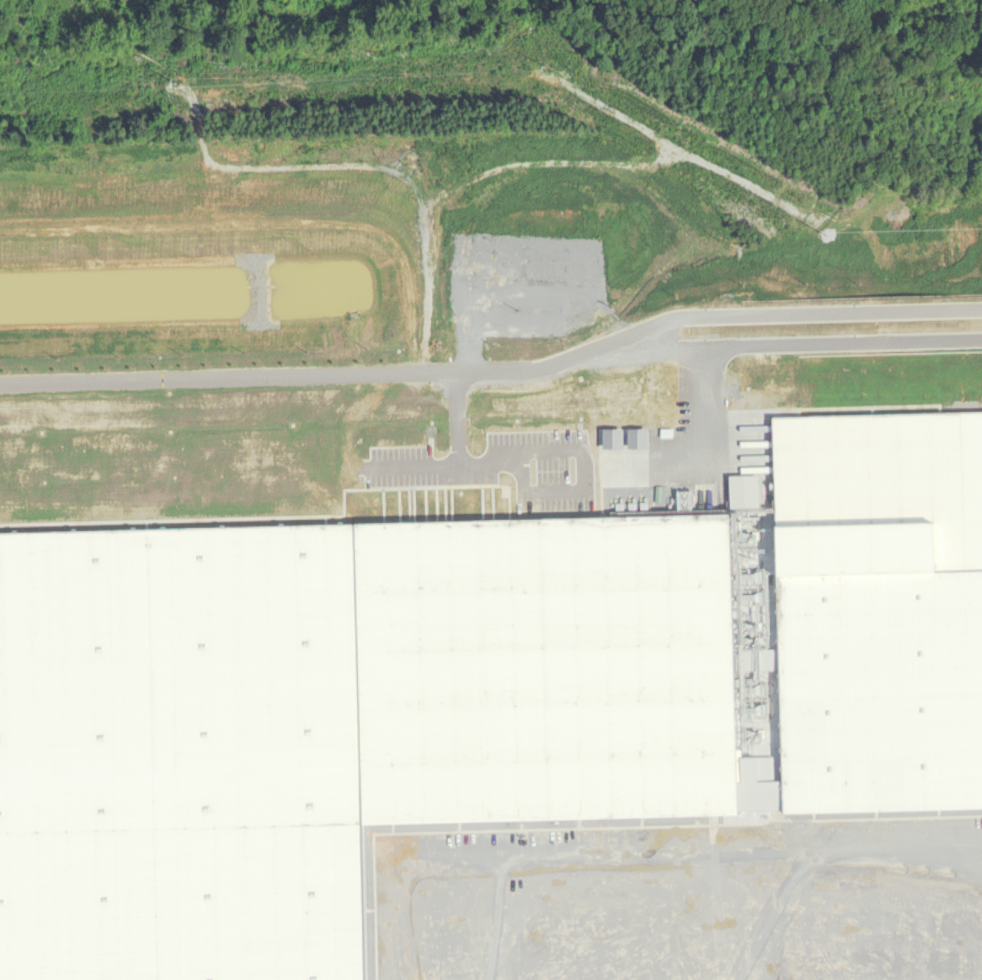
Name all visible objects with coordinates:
road: (495, 371)
road: (822, 841)

